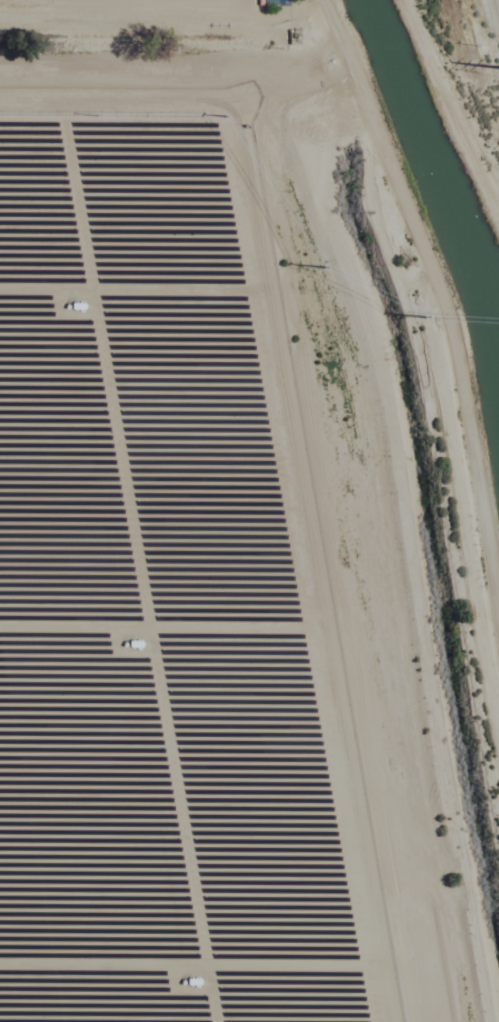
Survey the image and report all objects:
building: (267, 3)
road: (444, 116)
solar farm: (166, 589)

